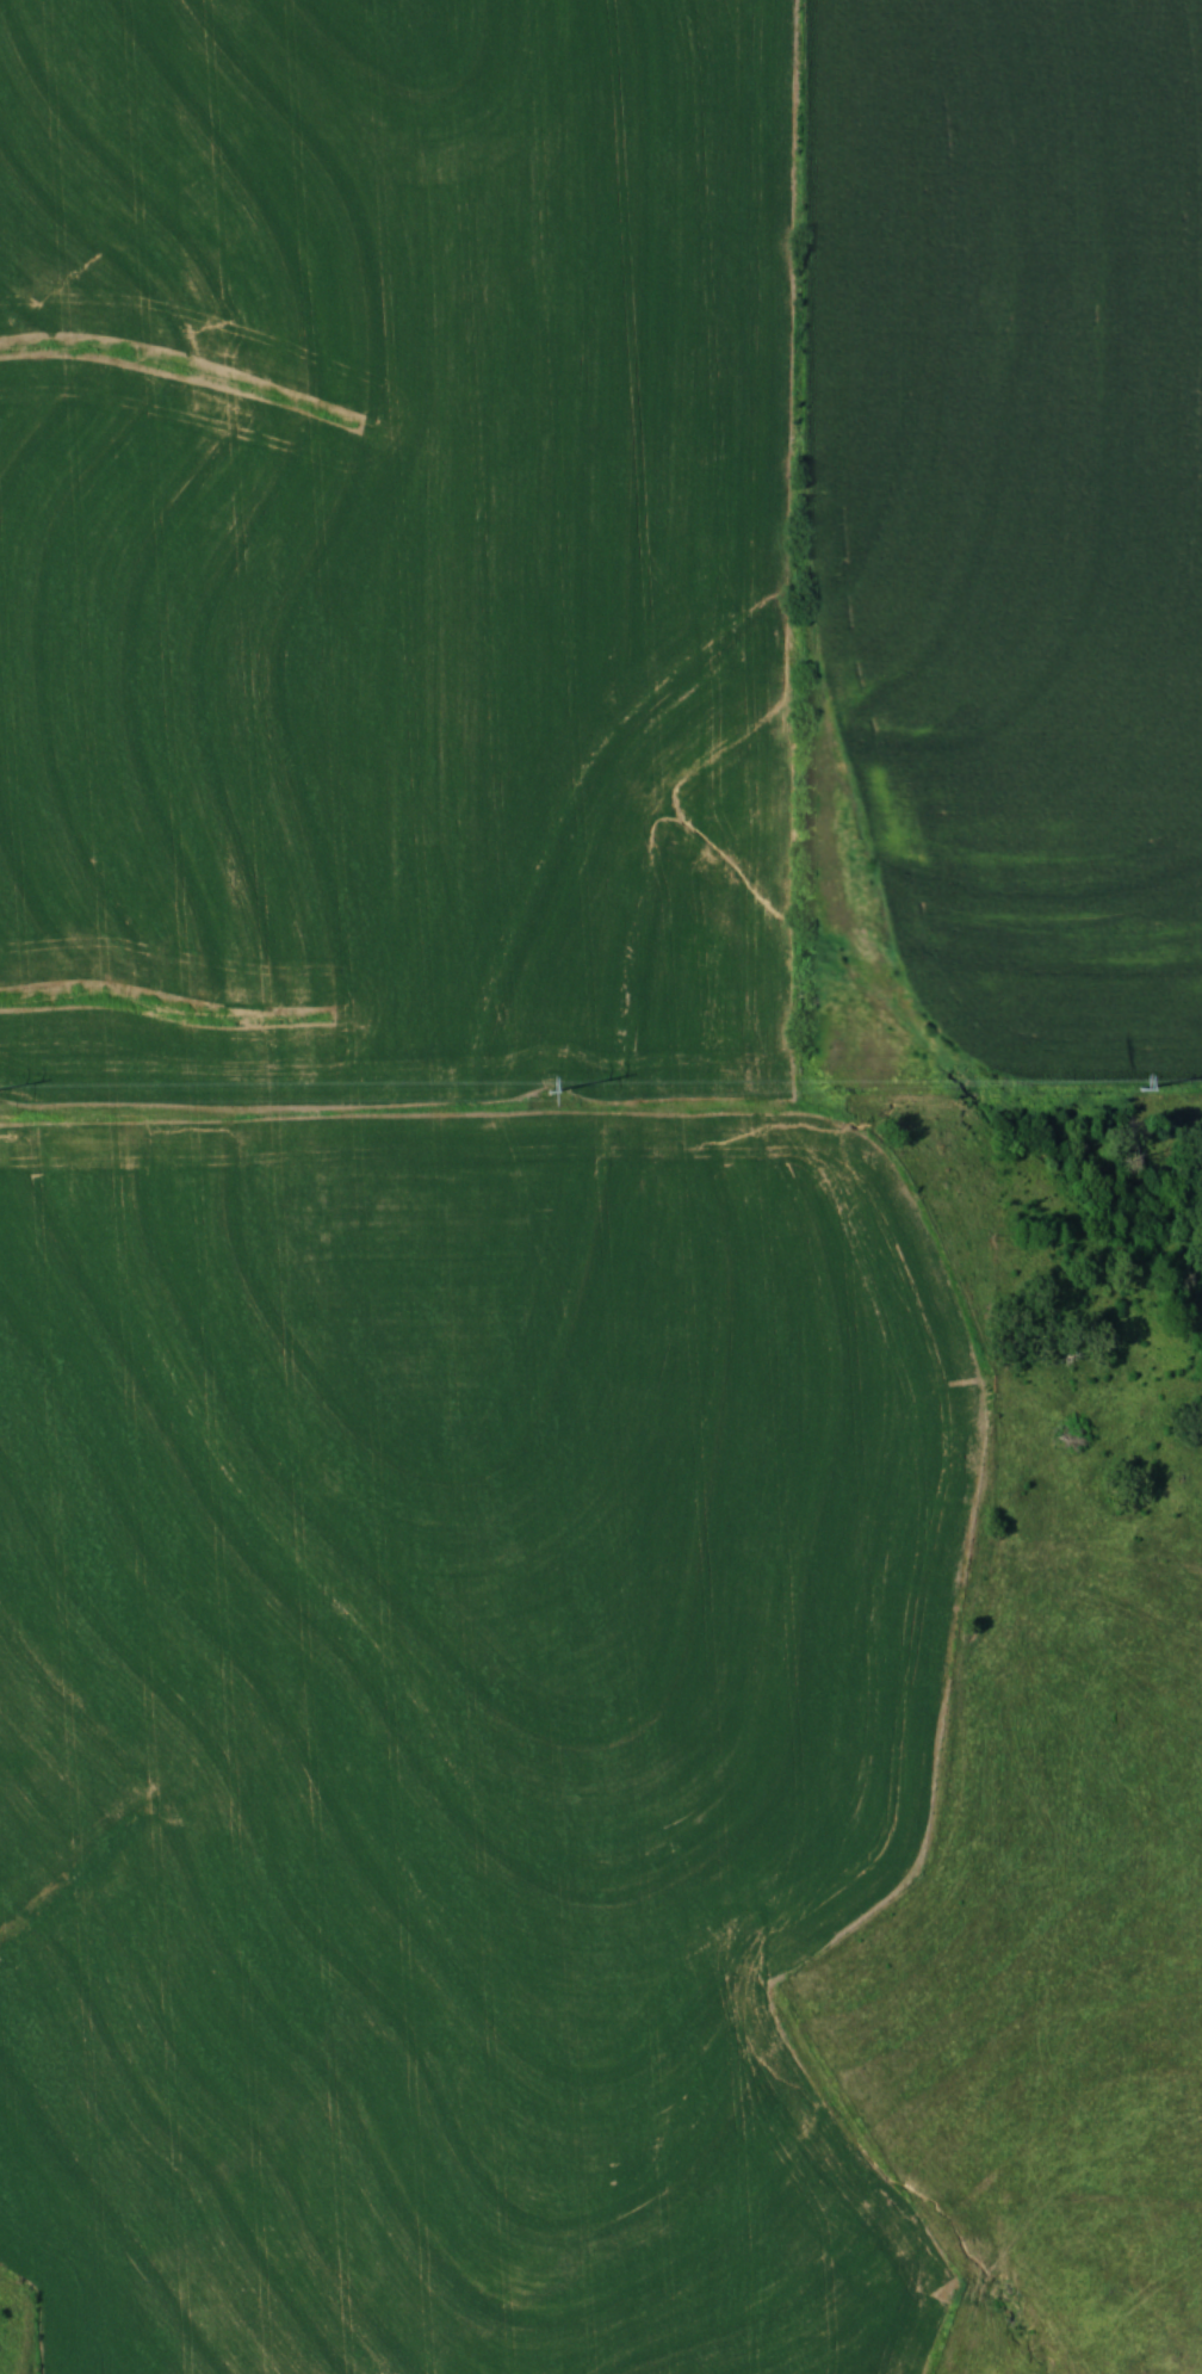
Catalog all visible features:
power tower: (1135, 1083)
power tower: (546, 1089)

